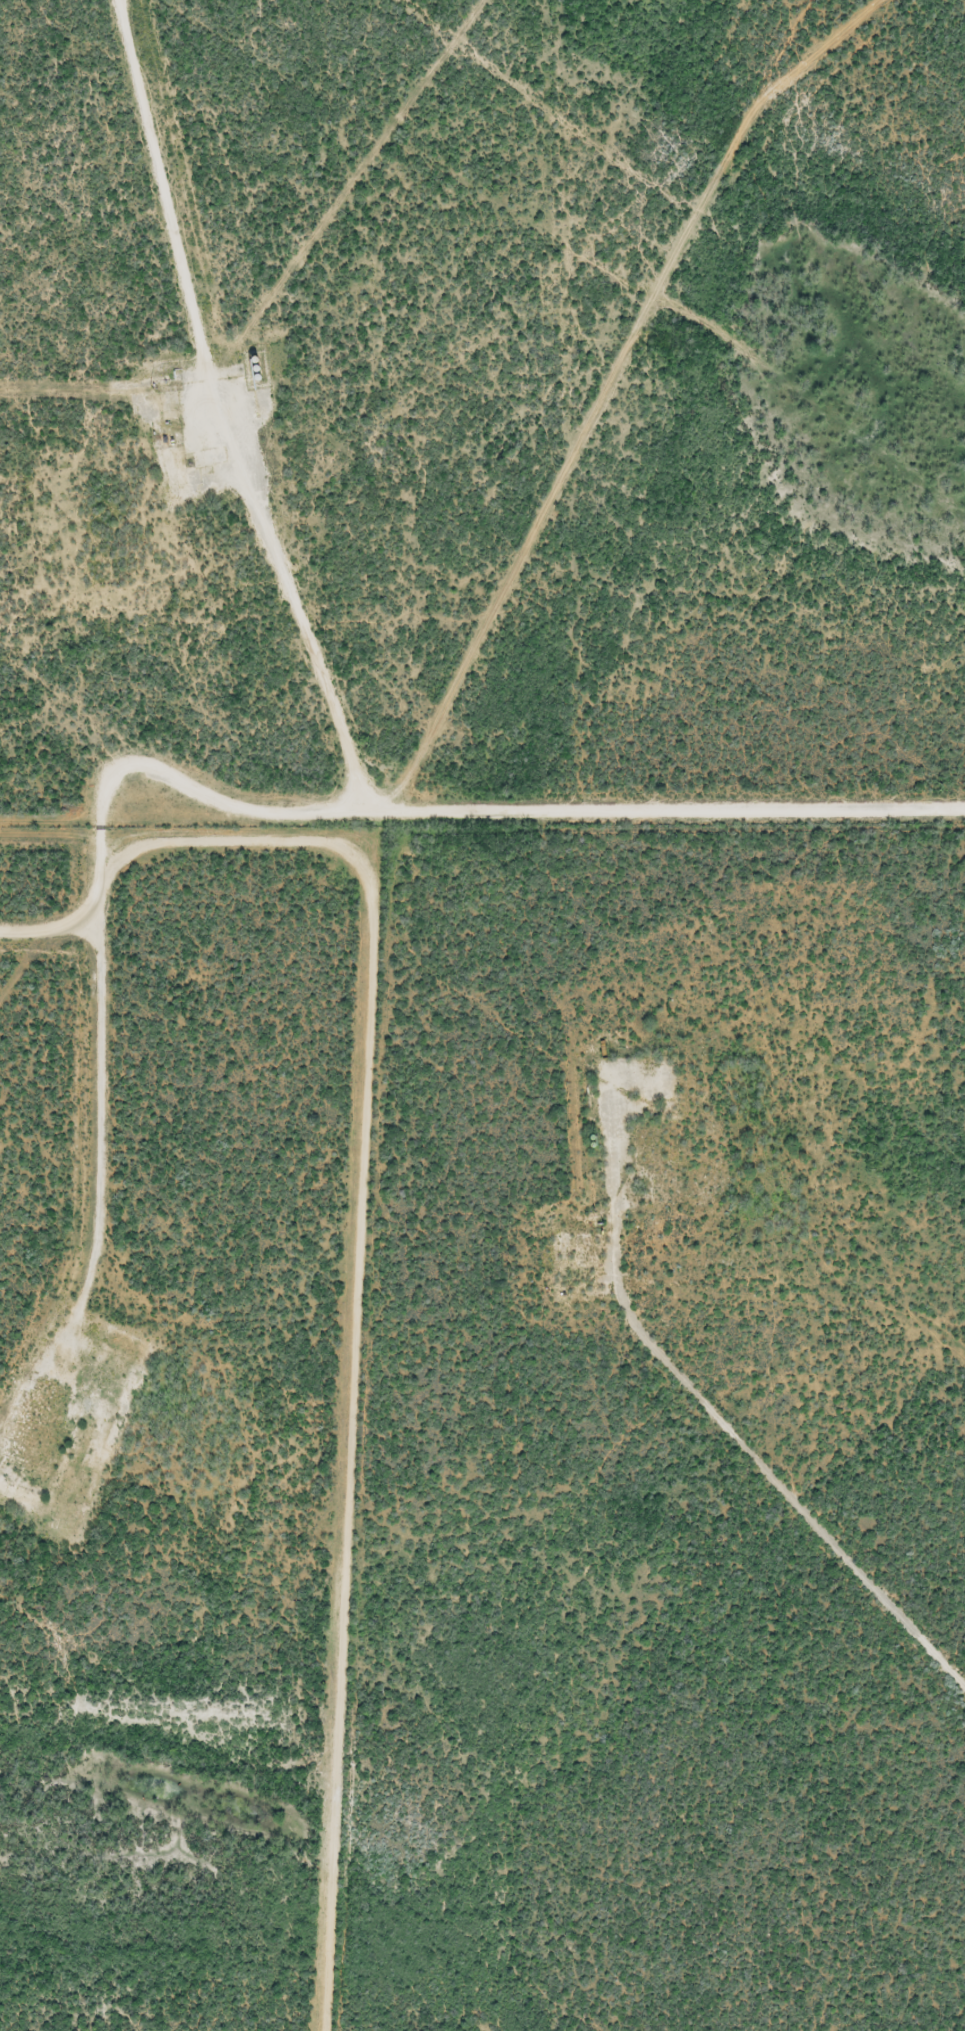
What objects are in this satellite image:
road: (593, 403)
road: (580, 722)

